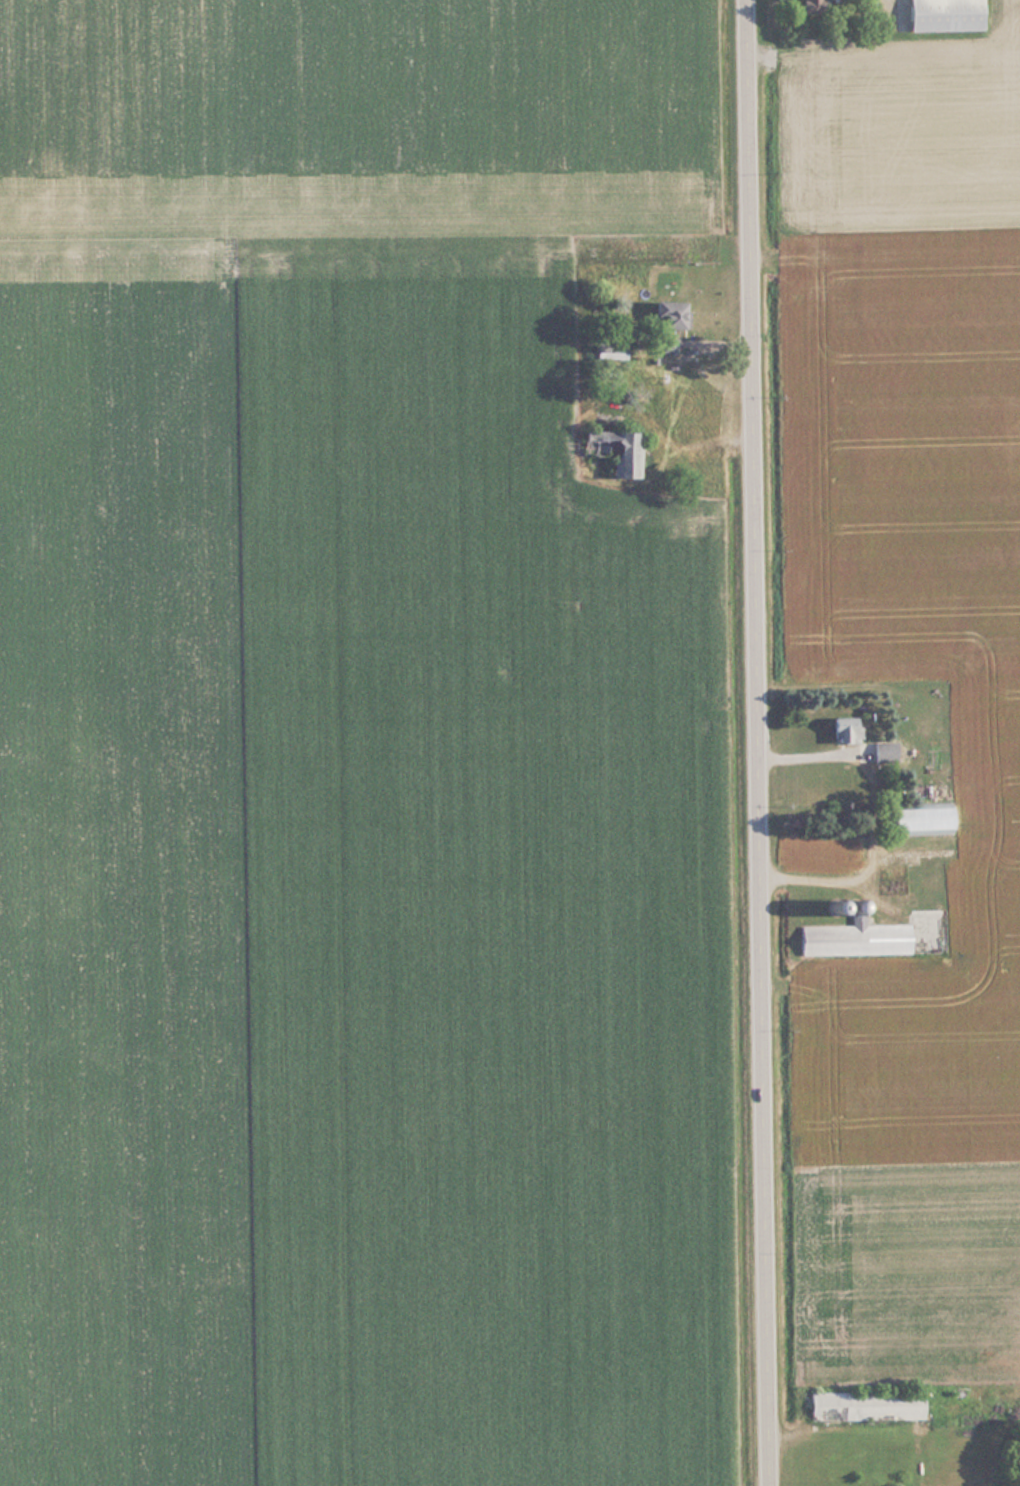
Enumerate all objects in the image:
building: (813, 5)
building: (941, 15)
building: (666, 314)
building: (668, 344)
building: (610, 349)
building: (612, 451)
building: (841, 730)
road: (758, 743)
building: (883, 752)
building: (920, 820)
building: (852, 934)
building: (865, 1405)

